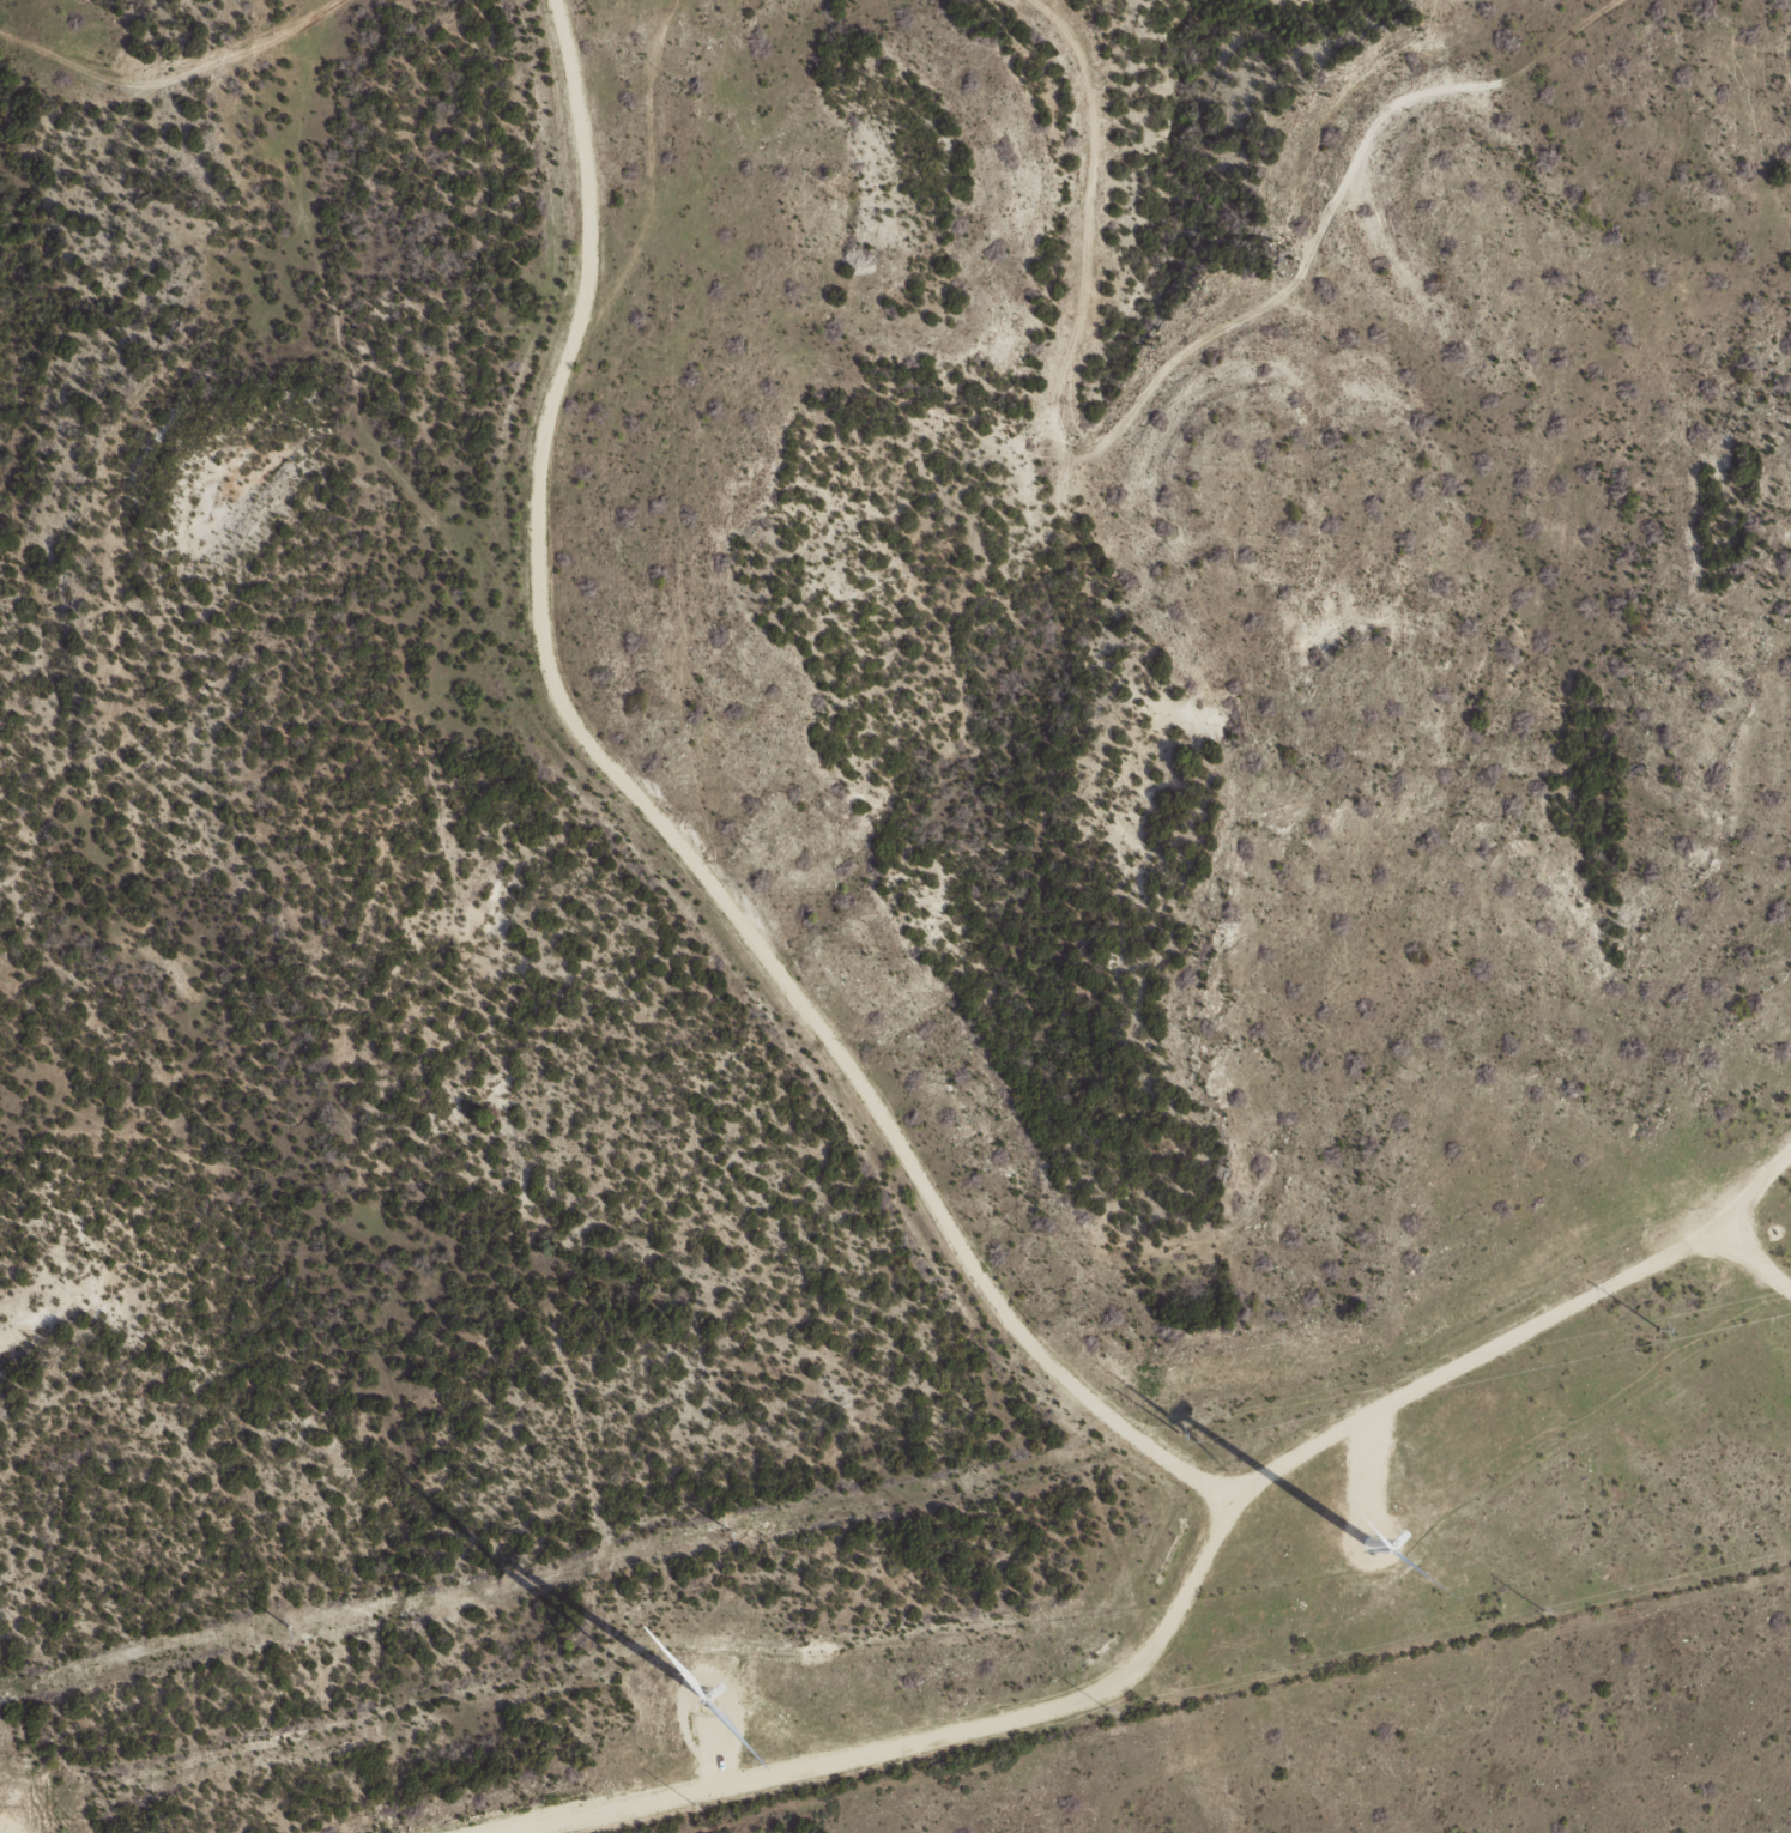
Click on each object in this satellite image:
road: (159, 52)
road: (1754, 163)
road: (872, 1117)
power tower: (1656, 1329)
power tower: (1173, 1434)
wind turbine: (1380, 1527)
power tower: (724, 1531)
power tower: (1542, 1609)
power tower: (283, 1627)
road: (1217, 1668)
wind turbine: (696, 1698)
power tower: (1107, 1711)
road: (1015, 1768)
power tower: (694, 1804)

